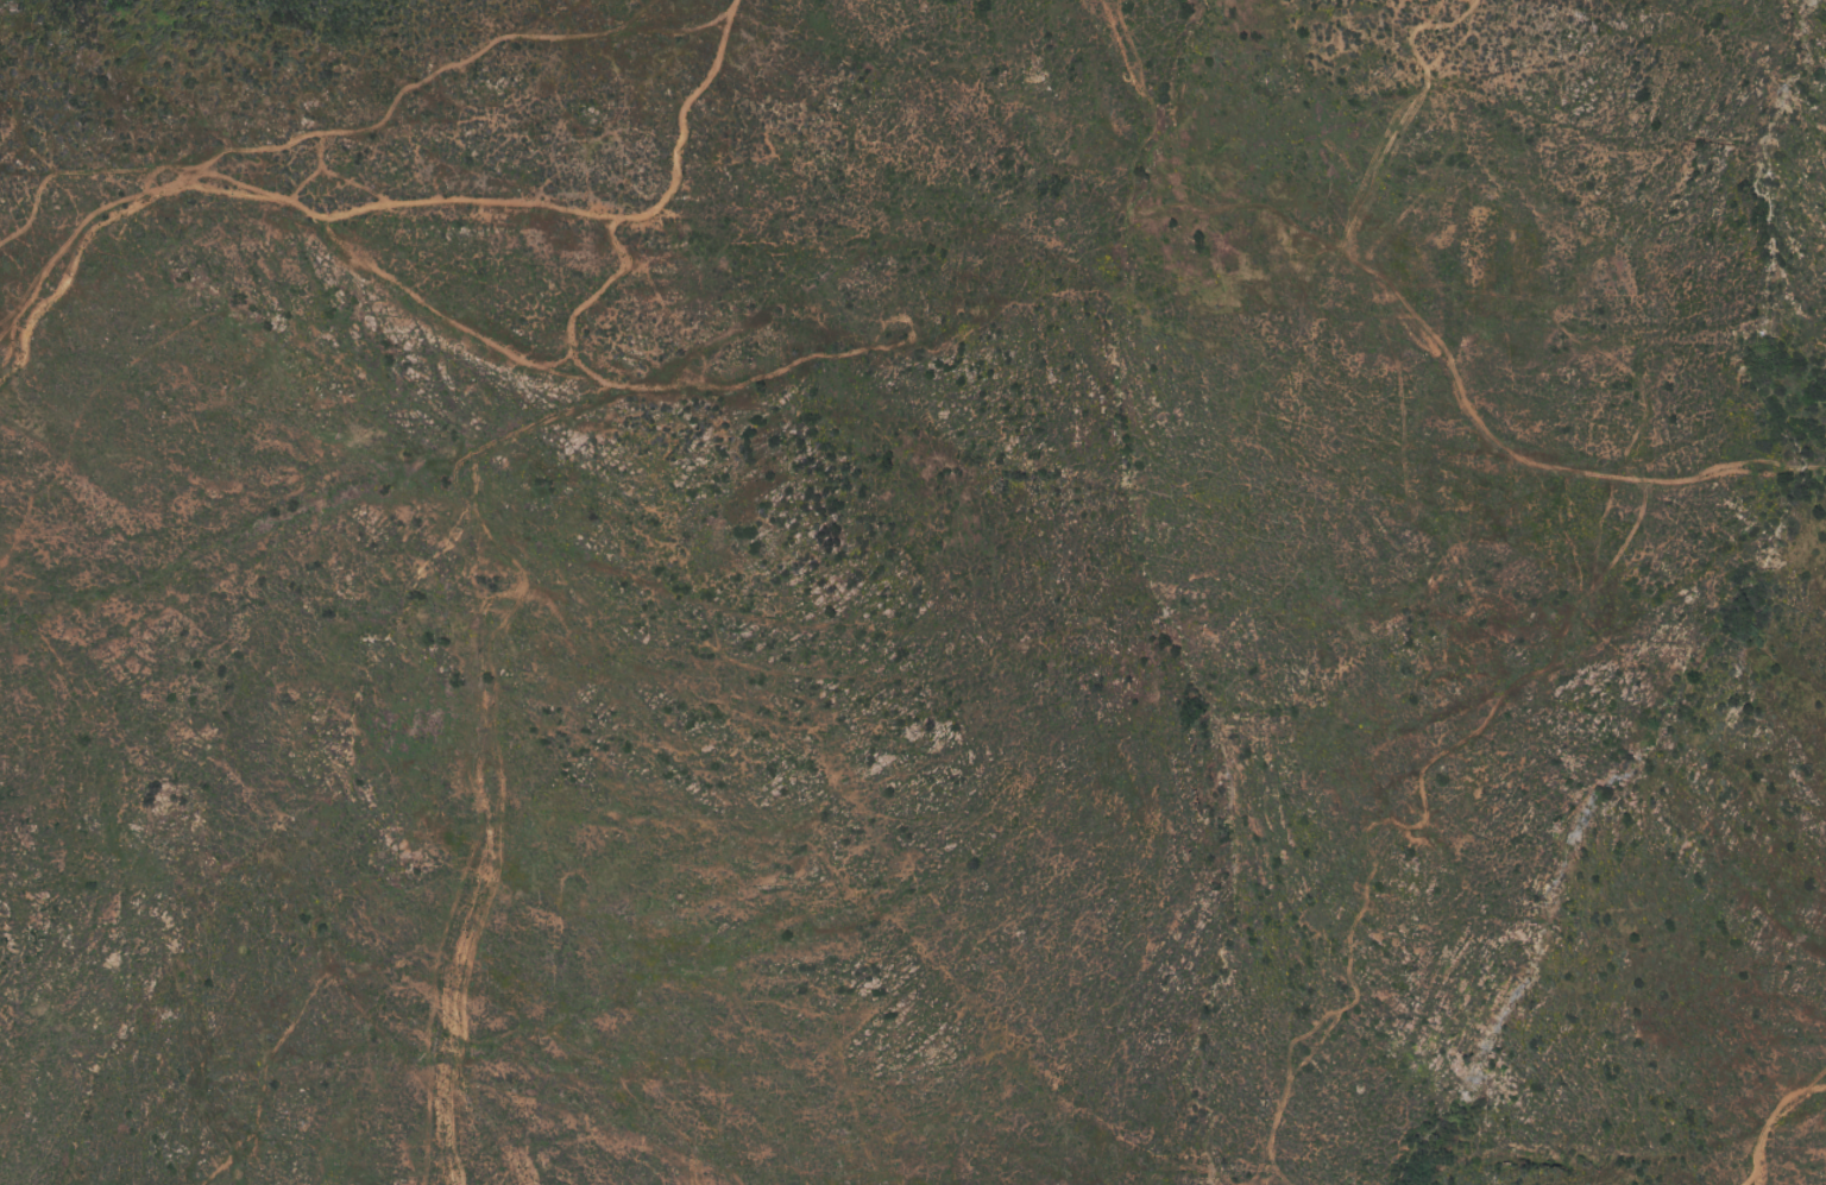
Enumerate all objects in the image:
road: (380, 209)
road: (1403, 315)
road: (1777, 1127)

